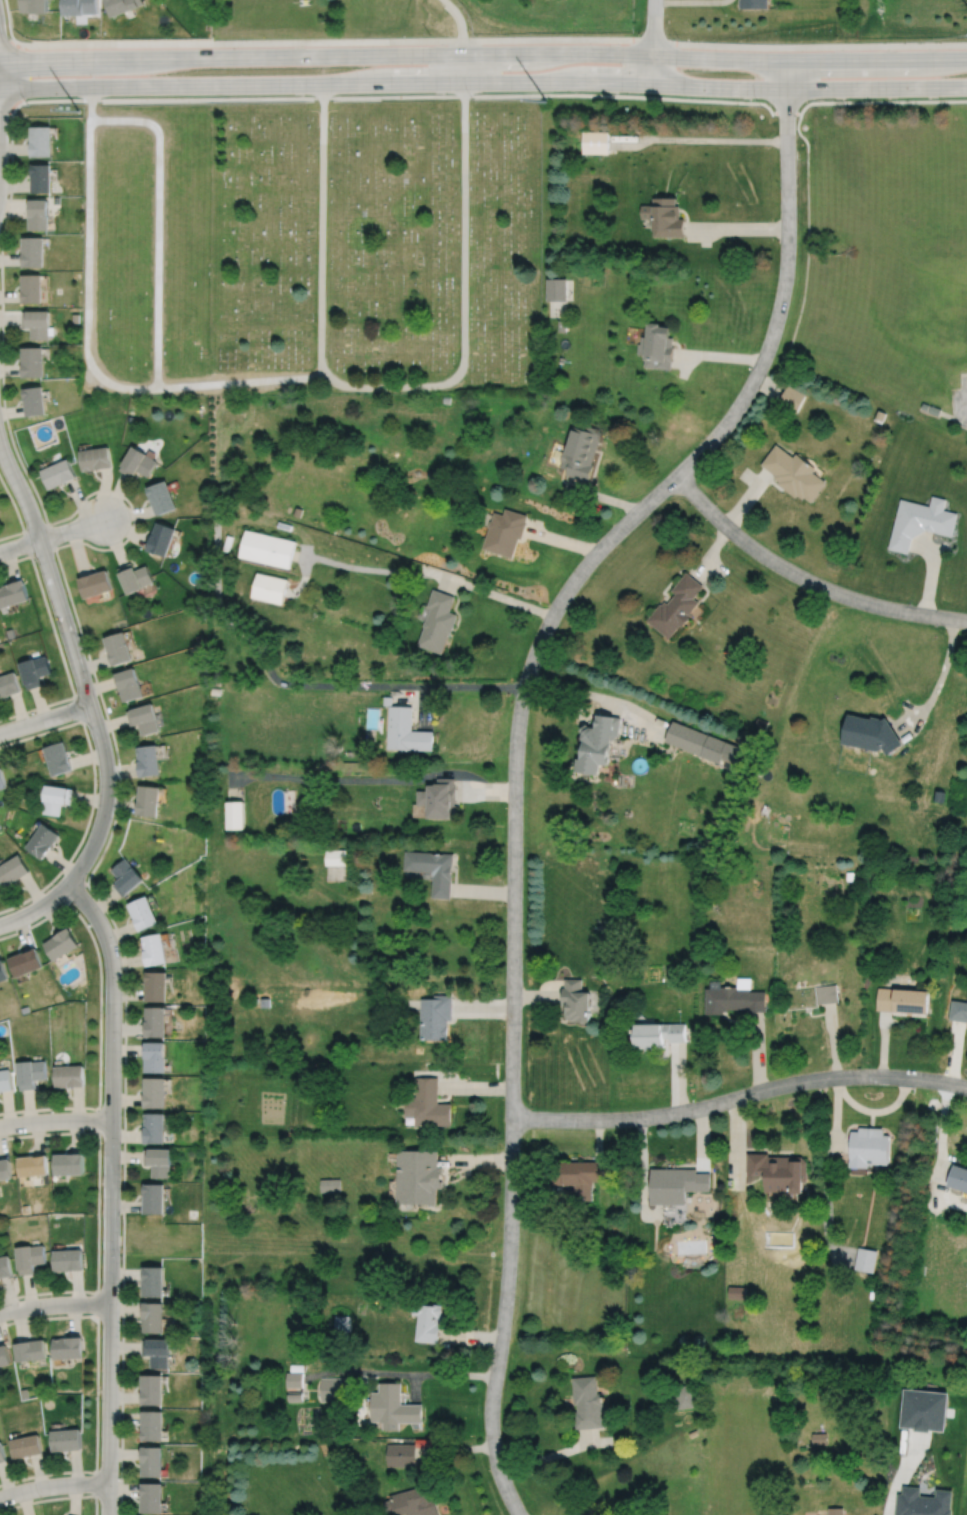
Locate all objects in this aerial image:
road: (689, 1)
building: (752, 4)
building: (34, 6)
building: (123, 6)
building: (80, 7)
road: (9, 21)
street lamp: (476, 35)
road: (462, 37)
street lamp: (678, 37)
road: (483, 39)
road: (654, 41)
road: (0, 42)
road: (483, 53)
road: (483, 80)
road: (881, 100)
road: (6, 112)
road: (793, 112)
street lamp: (9, 124)
building: (596, 139)
road: (700, 139)
building: (41, 142)
building: (40, 177)
building: (38, 212)
building: (664, 214)
road: (737, 227)
road: (322, 229)
road: (806, 240)
park: (312, 247)
building: (32, 250)
building: (31, 287)
building: (556, 287)
road: (464, 299)
building: (36, 321)
building: (561, 324)
road: (90, 342)
building: (657, 344)
road: (719, 356)
building: (32, 360)
building: (792, 397)
building: (446, 398)
building: (34, 399)
parking lot: (959, 402)
building: (922, 405)
building: (933, 410)
building: (879, 414)
building: (580, 450)
building: (95, 457)
building: (137, 462)
building: (58, 472)
building: (792, 472)
road: (601, 495)
building: (161, 496)
street lamp: (88, 498)
road: (747, 499)
building: (296, 511)
road: (17, 515)
building: (919, 521)
road: (49, 523)
road: (72, 528)
building: (504, 531)
building: (161, 538)
road: (562, 540)
road: (19, 545)
road: (53, 547)
building: (267, 548)
road: (709, 550)
street lamp: (35, 561)
road: (407, 570)
road: (930, 572)
building: (134, 577)
road: (805, 579)
building: (96, 583)
building: (270, 587)
building: (13, 593)
building: (676, 606)
building: (437, 621)
road: (58, 647)
building: (118, 648)
road: (265, 662)
road: (78, 664)
building: (34, 670)
street lamp: (92, 678)
road: (939, 682)
building: (8, 685)
building: (129, 685)
road: (600, 695)
building: (387, 700)
road: (78, 708)
street lamp: (30, 712)
road: (45, 717)
building: (144, 719)
building: (761, 723)
building: (405, 729)
building: (869, 734)
building: (598, 741)
building: (703, 745)
road: (515, 746)
building: (58, 759)
building: (148, 761)
street lamp: (97, 779)
road: (369, 779)
building: (2, 781)
building: (736, 786)
road: (94, 792)
building: (939, 796)
building: (439, 797)
building: (56, 798)
building: (149, 799)
building: (420, 811)
building: (234, 813)
building: (43, 838)
building: (337, 856)
building: (13, 867)
building: (432, 868)
building: (127, 875)
building: (849, 875)
road: (76, 888)
road: (483, 891)
street lamp: (72, 902)
road: (35, 907)
building: (145, 910)
street lamp: (117, 940)
building: (62, 942)
building: (156, 947)
building: (26, 960)
building: (3, 969)
building: (158, 984)
building: (827, 993)
road: (537, 995)
building: (734, 996)
building: (577, 999)
building: (904, 999)
building: (265, 1001)
road: (485, 1007)
building: (959, 1009)
road: (100, 1010)
building: (437, 1016)
building: (157, 1020)
building: (658, 1033)
street lamp: (122, 1038)
road: (883, 1043)
road: (757, 1051)
road: (953, 1053)
building: (157, 1054)
building: (31, 1072)
building: (70, 1075)
road: (677, 1078)
building: (6, 1079)
road: (460, 1087)
building: (156, 1091)
road: (739, 1096)
building: (429, 1104)
street lamp: (54, 1110)
road: (877, 1110)
road: (55, 1119)
road: (99, 1119)
building: (156, 1127)
road: (941, 1129)
road: (596, 1138)
road: (831, 1138)
road: (702, 1139)
road: (736, 1142)
street lamp: (122, 1144)
building: (869, 1146)
road: (476, 1159)
building: (160, 1160)
building: (70, 1163)
building: (33, 1164)
building: (5, 1168)
road: (642, 1168)
building: (777, 1171)
building: (579, 1175)
building: (419, 1176)
building: (958, 1177)
building: (676, 1184)
building: (330, 1185)
road: (539, 1187)
road: (111, 1191)
building: (156, 1198)
road: (98, 1210)
street lamp: (121, 1255)
building: (30, 1257)
building: (69, 1259)
building: (865, 1259)
building: (5, 1266)
building: (155, 1281)
building: (737, 1292)
road: (97, 1303)
road: (54, 1304)
street lamp: (44, 1315)
building: (154, 1317)
building: (429, 1321)
building: (342, 1323)
building: (364, 1334)
road: (472, 1336)
building: (345, 1338)
building: (67, 1348)
building: (29, 1350)
building: (159, 1351)
building: (4, 1356)
building: (297, 1367)
road: (400, 1373)
building: (294, 1379)
road: (414, 1387)
building: (334, 1389)
building: (153, 1390)
road: (96, 1392)
building: (295, 1395)
building: (685, 1396)
street lamp: (98, 1397)
building: (587, 1402)
building: (392, 1407)
building: (924, 1411)
building: (153, 1426)
building: (693, 1432)
building: (819, 1439)
building: (65, 1440)
building: (423, 1442)
building: (25, 1446)
road: (456, 1449)
building: (2, 1454)
road: (555, 1454)
building: (401, 1455)
building: (151, 1462)
road: (902, 1474)
road: (95, 1483)
road: (53, 1485)
street lamp: (41, 1497)
road: (56, 1497)
building: (151, 1498)
street lamp: (98, 1502)
building: (411, 1502)
building: (923, 1503)
building: (835, 1510)

